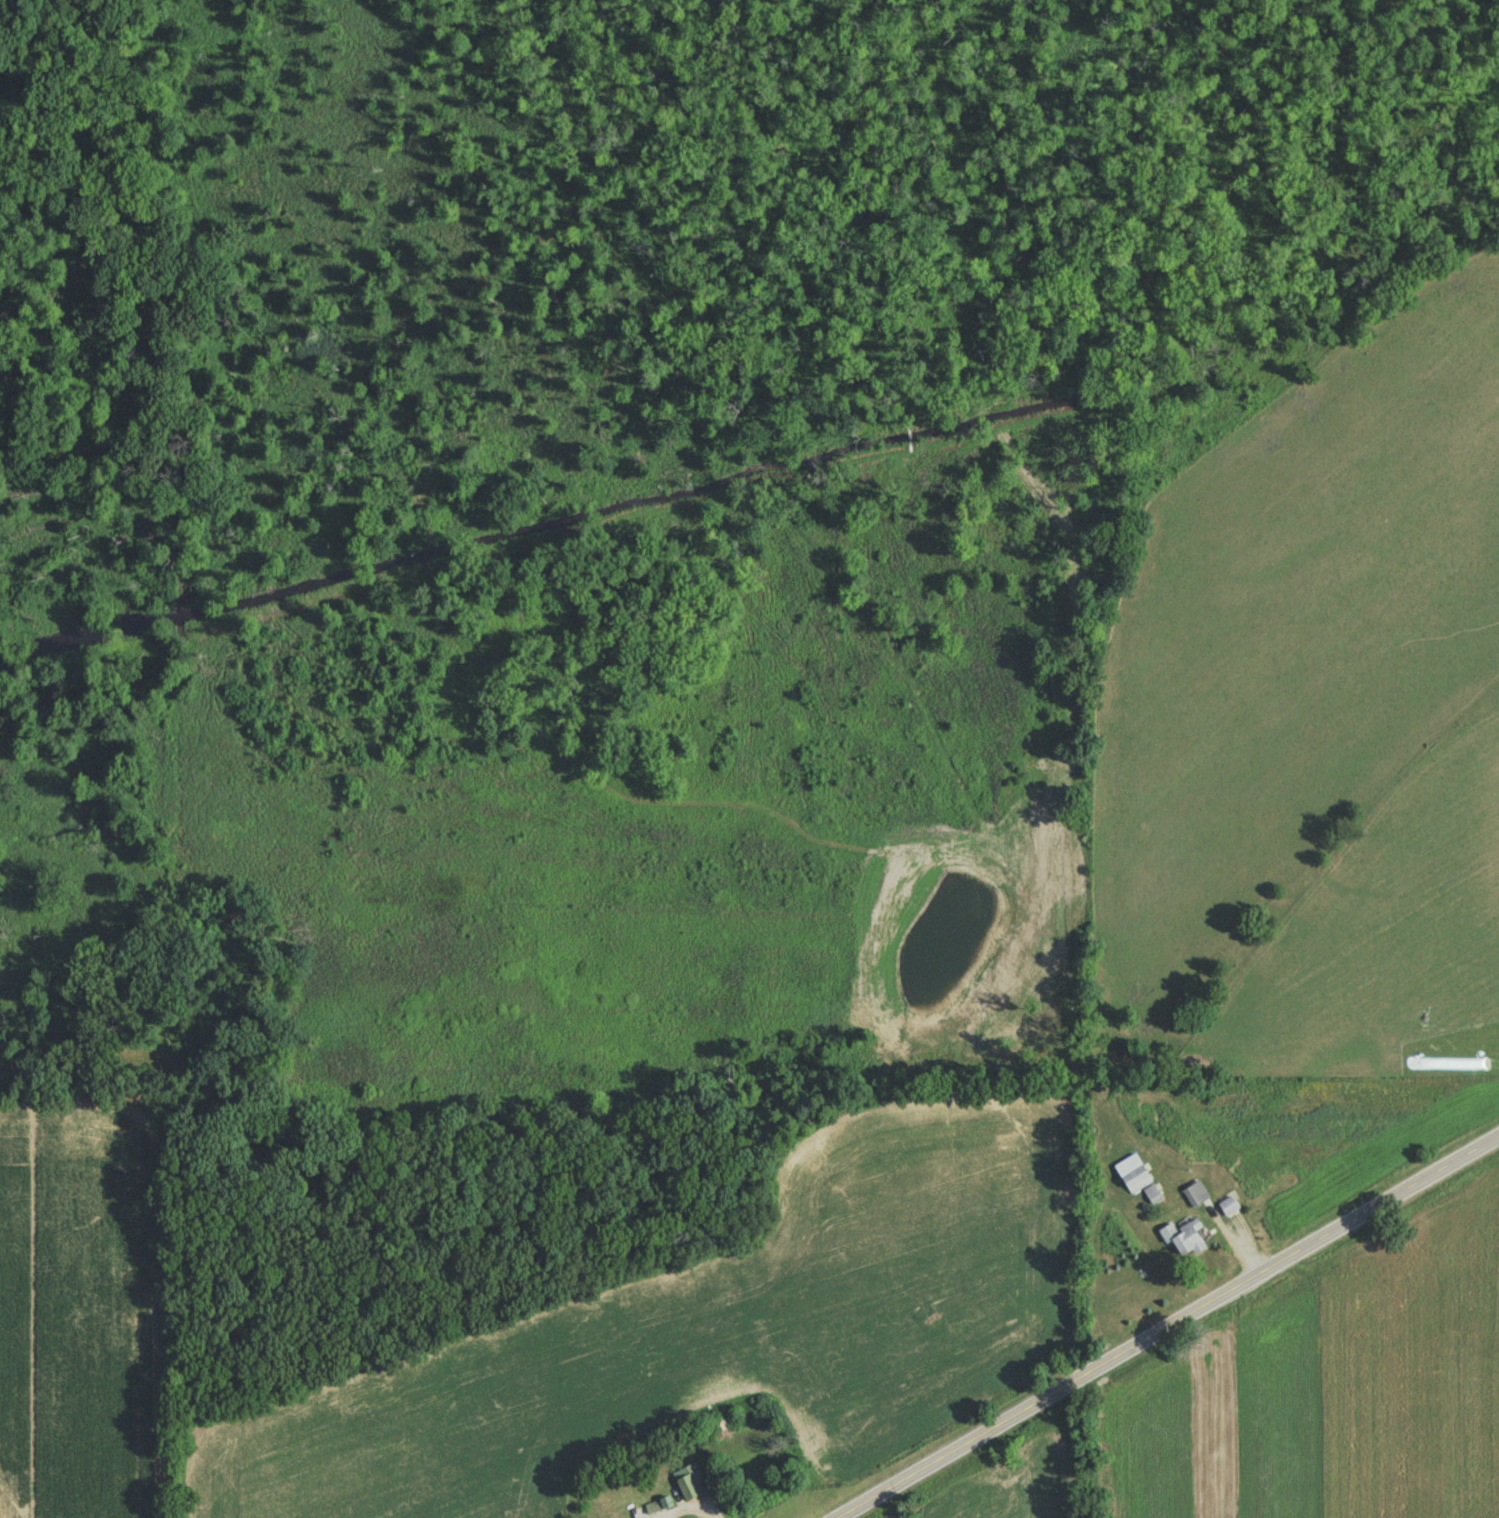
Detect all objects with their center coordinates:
building: (1138, 1182)
building: (1153, 1196)
building: (1196, 1197)
building: (1228, 1208)
building: (1185, 1241)
road: (1166, 1327)
building: (691, 1484)
building: (659, 1508)

